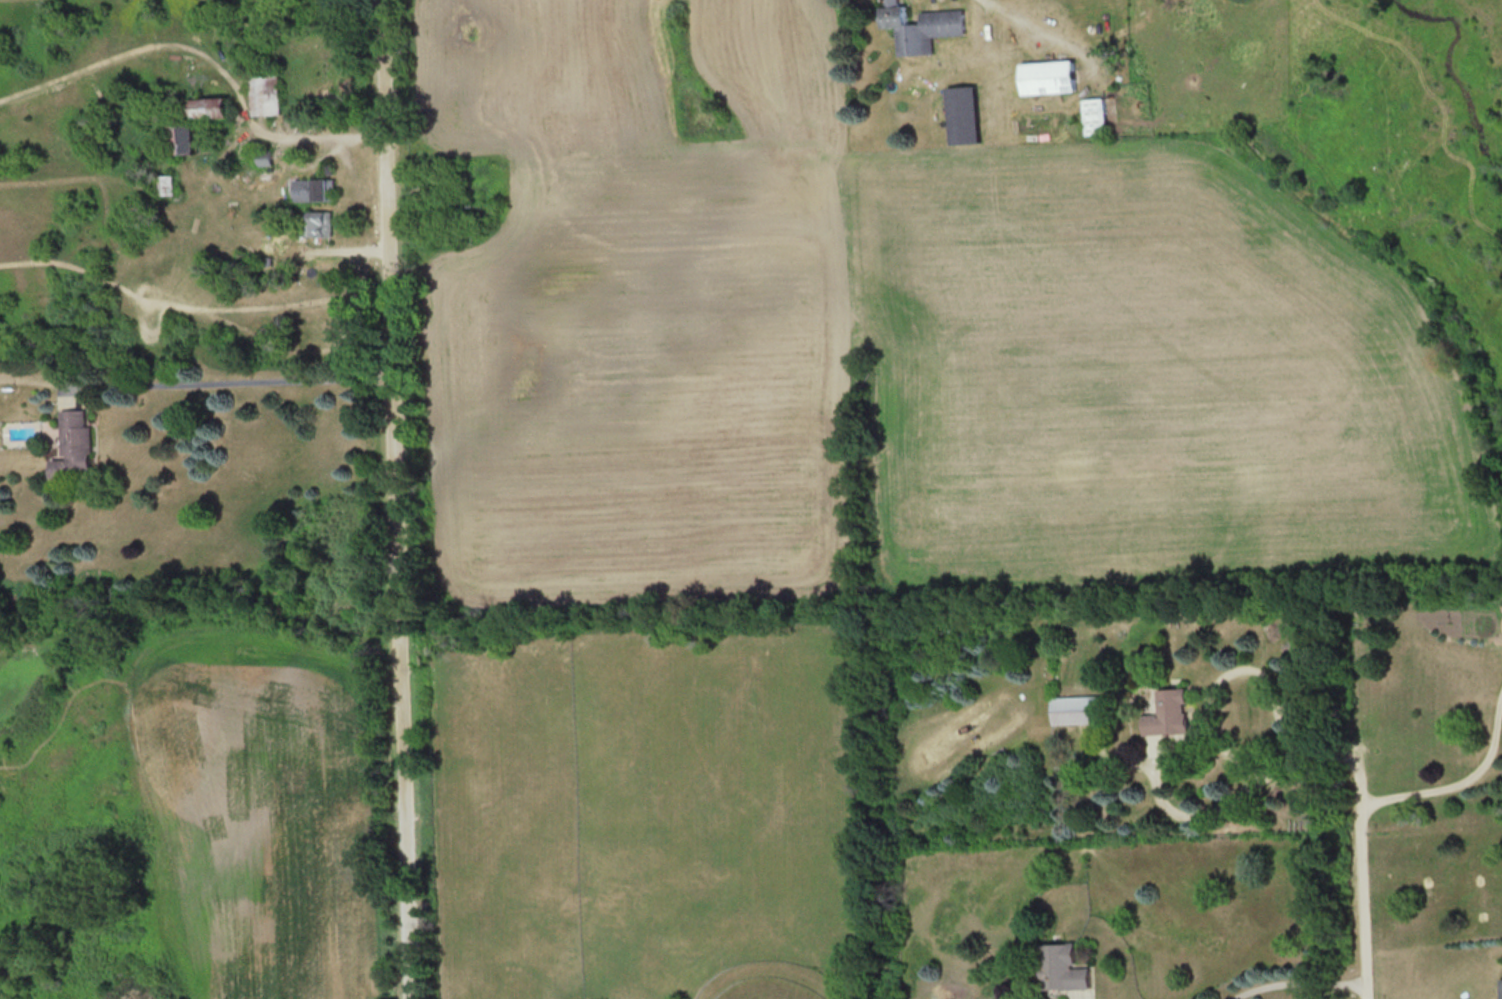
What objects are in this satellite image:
building: (923, 26)
building: (1056, 76)
building: (269, 91)
building: (221, 105)
building: (969, 114)
building: (1100, 115)
building: (195, 136)
building: (267, 156)
building: (319, 188)
building: (321, 222)
road: (247, 379)
building: (82, 443)
road: (402, 499)
building: (1083, 708)
building: (1177, 711)
road: (1461, 775)
road: (1240, 793)
road: (206, 811)
road: (1365, 877)
building: (1068, 966)
road: (1296, 977)

